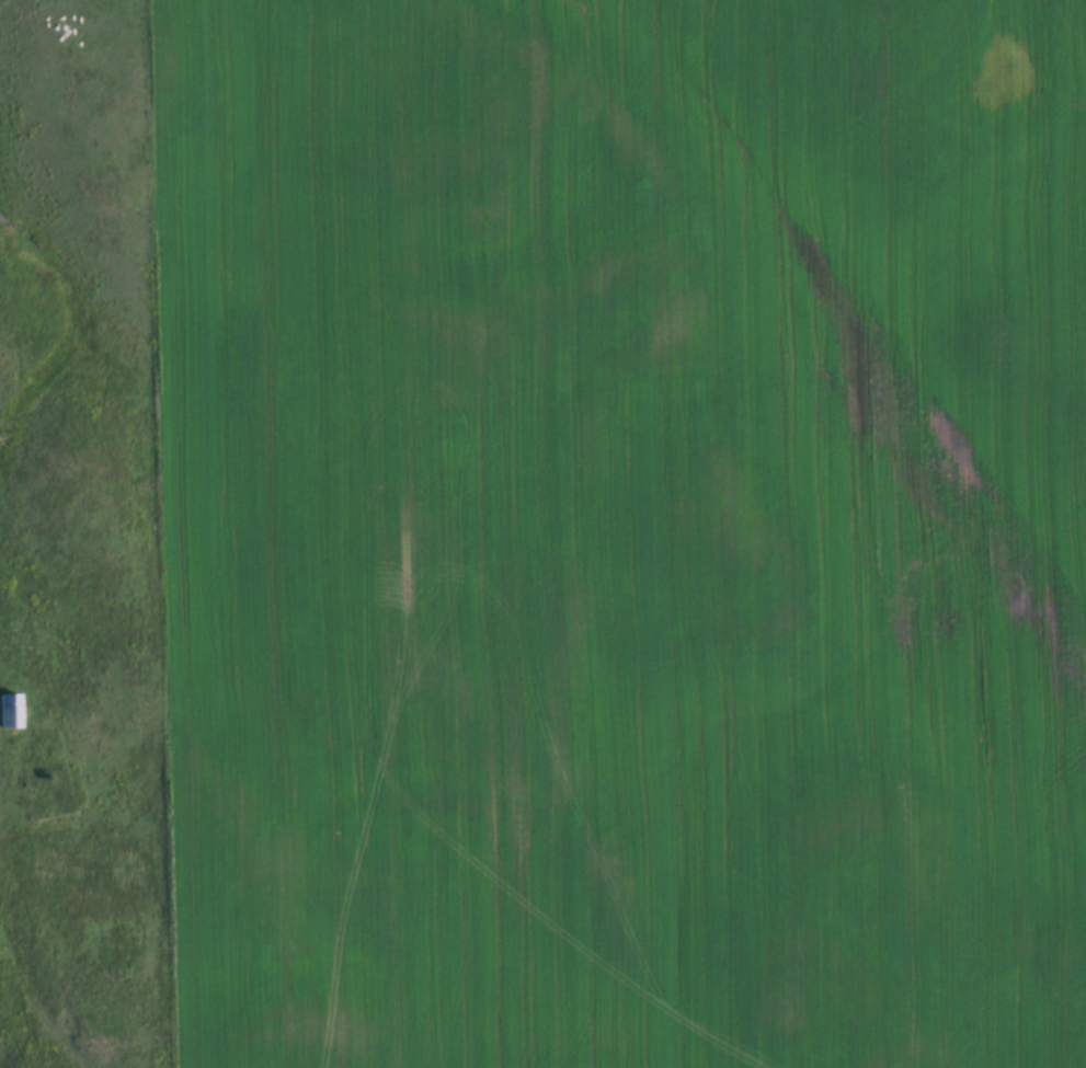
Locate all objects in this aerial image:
building: (10, 711)

